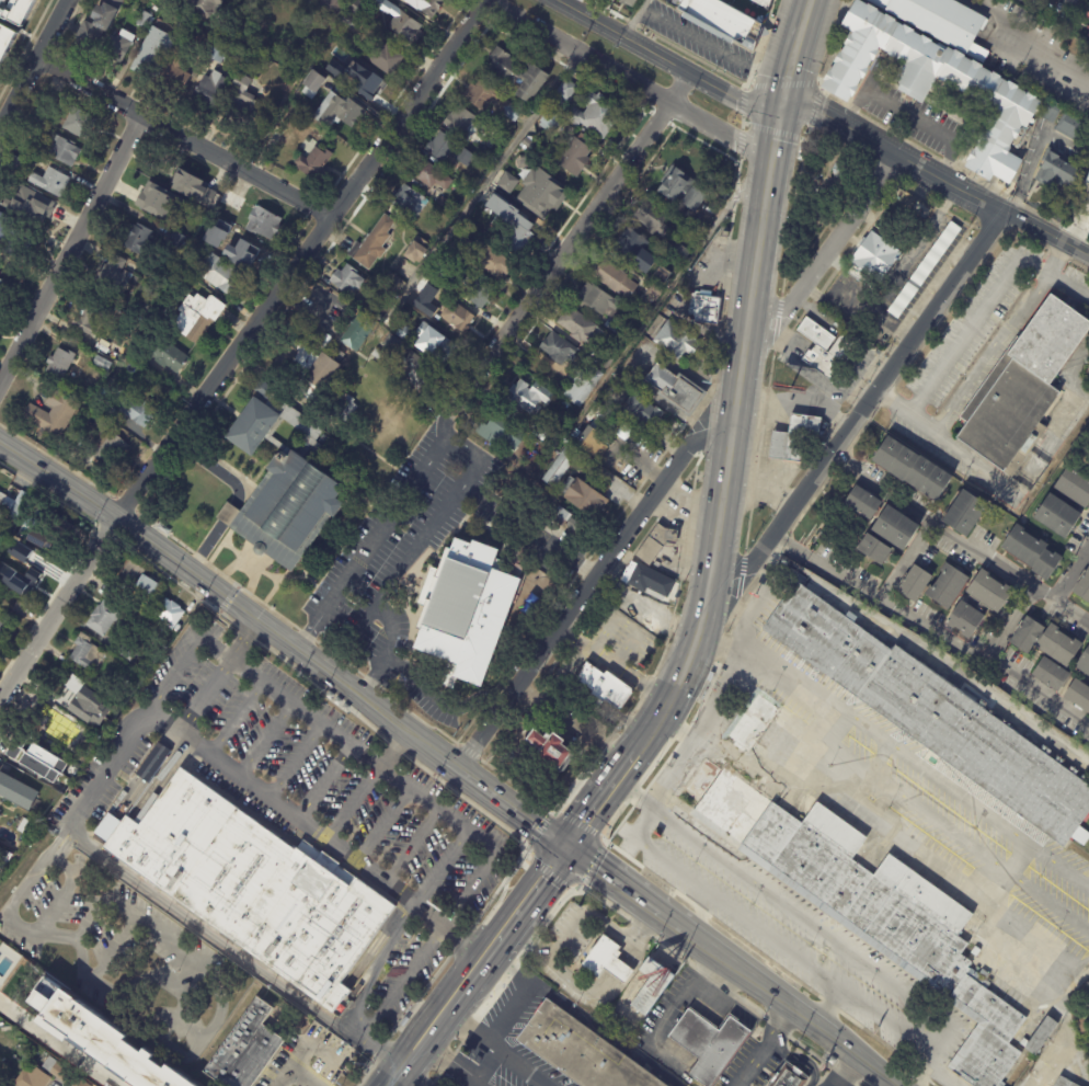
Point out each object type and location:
building: (1022, 0)
building: (628, 2)
building: (763, 2)
building: (332, 5)
building: (204, 7)
building: (425, 7)
building: (133, 8)
building: (357, 8)
building: (14, 10)
building: (1088, 15)
road: (635, 18)
road: (592, 19)
building: (144, 20)
building: (722, 20)
building: (348, 21)
building: (942, 21)
building: (98, 24)
building: (404, 26)
building: (1088, 27)
building: (4, 38)
road: (1032, 38)
road: (714, 44)
building: (118, 46)
building: (328, 52)
building: (217, 53)
road: (794, 53)
building: (152, 54)
building: (383, 58)
road: (34, 67)
building: (175, 72)
building: (516, 75)
road: (701, 78)
road: (626, 81)
building: (311, 84)
building: (368, 88)
building: (208, 91)
building: (993, 92)
building: (563, 94)
building: (489, 100)
building: (244, 104)
traffic signals: (781, 105)
building: (337, 112)
building: (1050, 112)
road: (910, 113)
building: (597, 115)
building: (549, 121)
building: (78, 122)
building: (462, 123)
building: (1071, 127)
road: (184, 138)
building: (526, 144)
building: (490, 147)
building: (447, 149)
building: (64, 152)
building: (801, 153)
building: (575, 156)
building: (313, 162)
building: (480, 162)
building: (12, 165)
building: (840, 170)
building: (428, 174)
building: (1058, 174)
road: (935, 176)
building: (1087, 179)
building: (176, 180)
building: (50, 182)
building: (507, 183)
building: (681, 191)
road: (912, 193)
building: (540, 194)
building: (211, 195)
building: (723, 196)
park: (817, 196)
building: (1088, 197)
building: (404, 199)
building: (158, 202)
building: (232, 202)
road: (470, 202)
building: (446, 204)
building: (916, 204)
building: (37, 209)
building: (0, 214)
building: (653, 219)
building: (263, 224)
building: (1087, 230)
building: (519, 232)
building: (9, 237)
building: (137, 238)
building: (176, 240)
road: (572, 240)
building: (371, 244)
road: (832, 244)
road: (73, 248)
building: (241, 248)
building: (199, 250)
building: (458, 250)
road: (913, 250)
building: (416, 251)
building: (679, 253)
building: (874, 254)
building: (640, 258)
building: (493, 264)
building: (921, 267)
building: (113, 275)
road: (839, 275)
building: (221, 277)
building: (346, 279)
building: (615, 279)
building: (392, 283)
building: (2, 285)
building: (477, 293)
building: (654, 293)
building: (598, 301)
building: (414, 302)
road: (985, 302)
road: (807, 307)
building: (703, 308)
road: (855, 311)
road: (646, 313)
building: (197, 317)
building: (457, 317)
building: (88, 318)
building: (378, 318)
building: (580, 328)
building: (615, 329)
building: (356, 331)
building: (401, 331)
building: (814, 333)
road: (1000, 339)
building: (676, 342)
building: (391, 344)
building: (434, 344)
building: (618, 344)
road: (240, 346)
building: (558, 350)
building: (113, 354)
building: (377, 354)
building: (829, 354)
building: (339, 356)
building: (169, 357)
building: (606, 358)
building: (58, 364)
building: (101, 364)
building: (345, 364)
building: (308, 365)
road: (861, 366)
road: (803, 367)
building: (415, 371)
building: (1088, 371)
building: (1020, 381)
building: (581, 386)
building: (677, 391)
building: (523, 398)
road: (866, 402)
road: (796, 404)
building: (345, 410)
building: (135, 411)
building: (644, 412)
building: (51, 414)
building: (111, 414)
building: (251, 423)
road: (734, 431)
building: (501, 433)
building: (540, 433)
building: (793, 435)
building: (594, 439)
building: (106, 448)
road: (434, 456)
road: (641, 466)
building: (914, 466)
road: (213, 468)
building: (560, 468)
road: (994, 476)
building: (1075, 484)
road: (879, 487)
road: (760, 489)
building: (583, 499)
building: (862, 501)
building: (13, 505)
building: (287, 510)
road: (228, 513)
building: (965, 513)
building: (1058, 514)
building: (559, 519)
building: (572, 525)
building: (896, 525)
building: (58, 526)
building: (163, 529)
road: (126, 531)
building: (655, 545)
building: (12, 547)
road: (204, 547)
building: (874, 548)
building: (1032, 552)
road: (987, 561)
road: (1068, 571)
building: (134, 580)
building: (649, 582)
building: (915, 582)
building: (22, 584)
railway: (719, 584)
building: (948, 586)
building: (1084, 587)
road: (584, 588)
building: (990, 590)
road: (864, 592)
road: (757, 602)
building: (18, 608)
building: (466, 608)
building: (169, 613)
road: (1068, 615)
building: (102, 618)
building: (965, 618)
building: (2, 625)
building: (811, 629)
road: (929, 629)
road: (243, 639)
building: (1046, 641)
road: (215, 644)
road: (389, 647)
road: (294, 649)
building: (127, 650)
road: (927, 651)
building: (85, 652)
building: (154, 659)
building: (1085, 662)
road: (612, 664)
building: (859, 664)
road: (247, 667)
road: (998, 668)
building: (714, 671)
road: (171, 672)
building: (1052, 673)
building: (711, 679)
building: (605, 686)
building: (69, 688)
road: (346, 693)
building: (1079, 694)
road: (203, 695)
building: (330, 696)
building: (337, 701)
building: (78, 716)
building: (42, 717)
building: (525, 717)
road: (234, 718)
road: (573, 721)
building: (750, 721)
road: (397, 731)
road: (262, 736)
building: (976, 745)
building: (549, 747)
building: (25, 748)
building: (67, 748)
building: (153, 752)
road: (454, 753)
road: (727, 753)
road: (293, 759)
building: (43, 763)
road: (442, 764)
road: (380, 765)
road: (676, 774)
building: (45, 777)
road: (322, 781)
building: (16, 791)
road: (635, 791)
parking lot: (344, 795)
road: (603, 795)
road: (352, 802)
road: (506, 811)
parking lot: (920, 813)
road: (645, 822)
road: (380, 823)
road: (313, 833)
road: (913, 833)
road: (635, 835)
building: (98, 837)
road: (412, 845)
traffic signals: (563, 847)
building: (3, 858)
road: (443, 868)
road: (614, 882)
building: (252, 884)
road: (62, 889)
road: (471, 889)
road: (157, 892)
building: (860, 902)
road: (804, 915)
road: (505, 926)
road: (568, 930)
road: (398, 933)
road: (615, 933)
parking lot: (787, 933)
building: (408, 934)
road: (651, 934)
road: (530, 936)
road: (784, 944)
road: (114, 950)
building: (976, 951)
building: (598, 954)
road: (1063, 954)
road: (632, 958)
building: (617, 969)
road: (622, 972)
building: (1081, 976)
road: (403, 983)
building: (1088, 984)
building: (650, 986)
road: (582, 987)
road: (685, 992)
road: (362, 993)
building: (46, 995)
road: (781, 1001)
road: (181, 1004)
road: (828, 1005)
building: (610, 1018)
building: (404, 1019)
building: (400, 1026)
road: (468, 1030)
building: (1040, 1034)
road: (943, 1037)
building: (707, 1042)
road: (58, 1043)
building: (105, 1044)
road: (416, 1044)
road: (766, 1048)
building: (245, 1049)
building: (580, 1050)
road: (502, 1052)
road: (305, 1055)
road: (381, 1055)
road: (796, 1055)
road: (444, 1064)
building: (55, 1068)
road: (921, 1068)
road: (842, 1071)
road: (296, 1073)
road: (945, 1073)
road: (420, 1075)
building: (787, 1076)
building: (31, 1077)
building: (1066, 1081)
road: (887, 1083)
building: (81, 1084)

